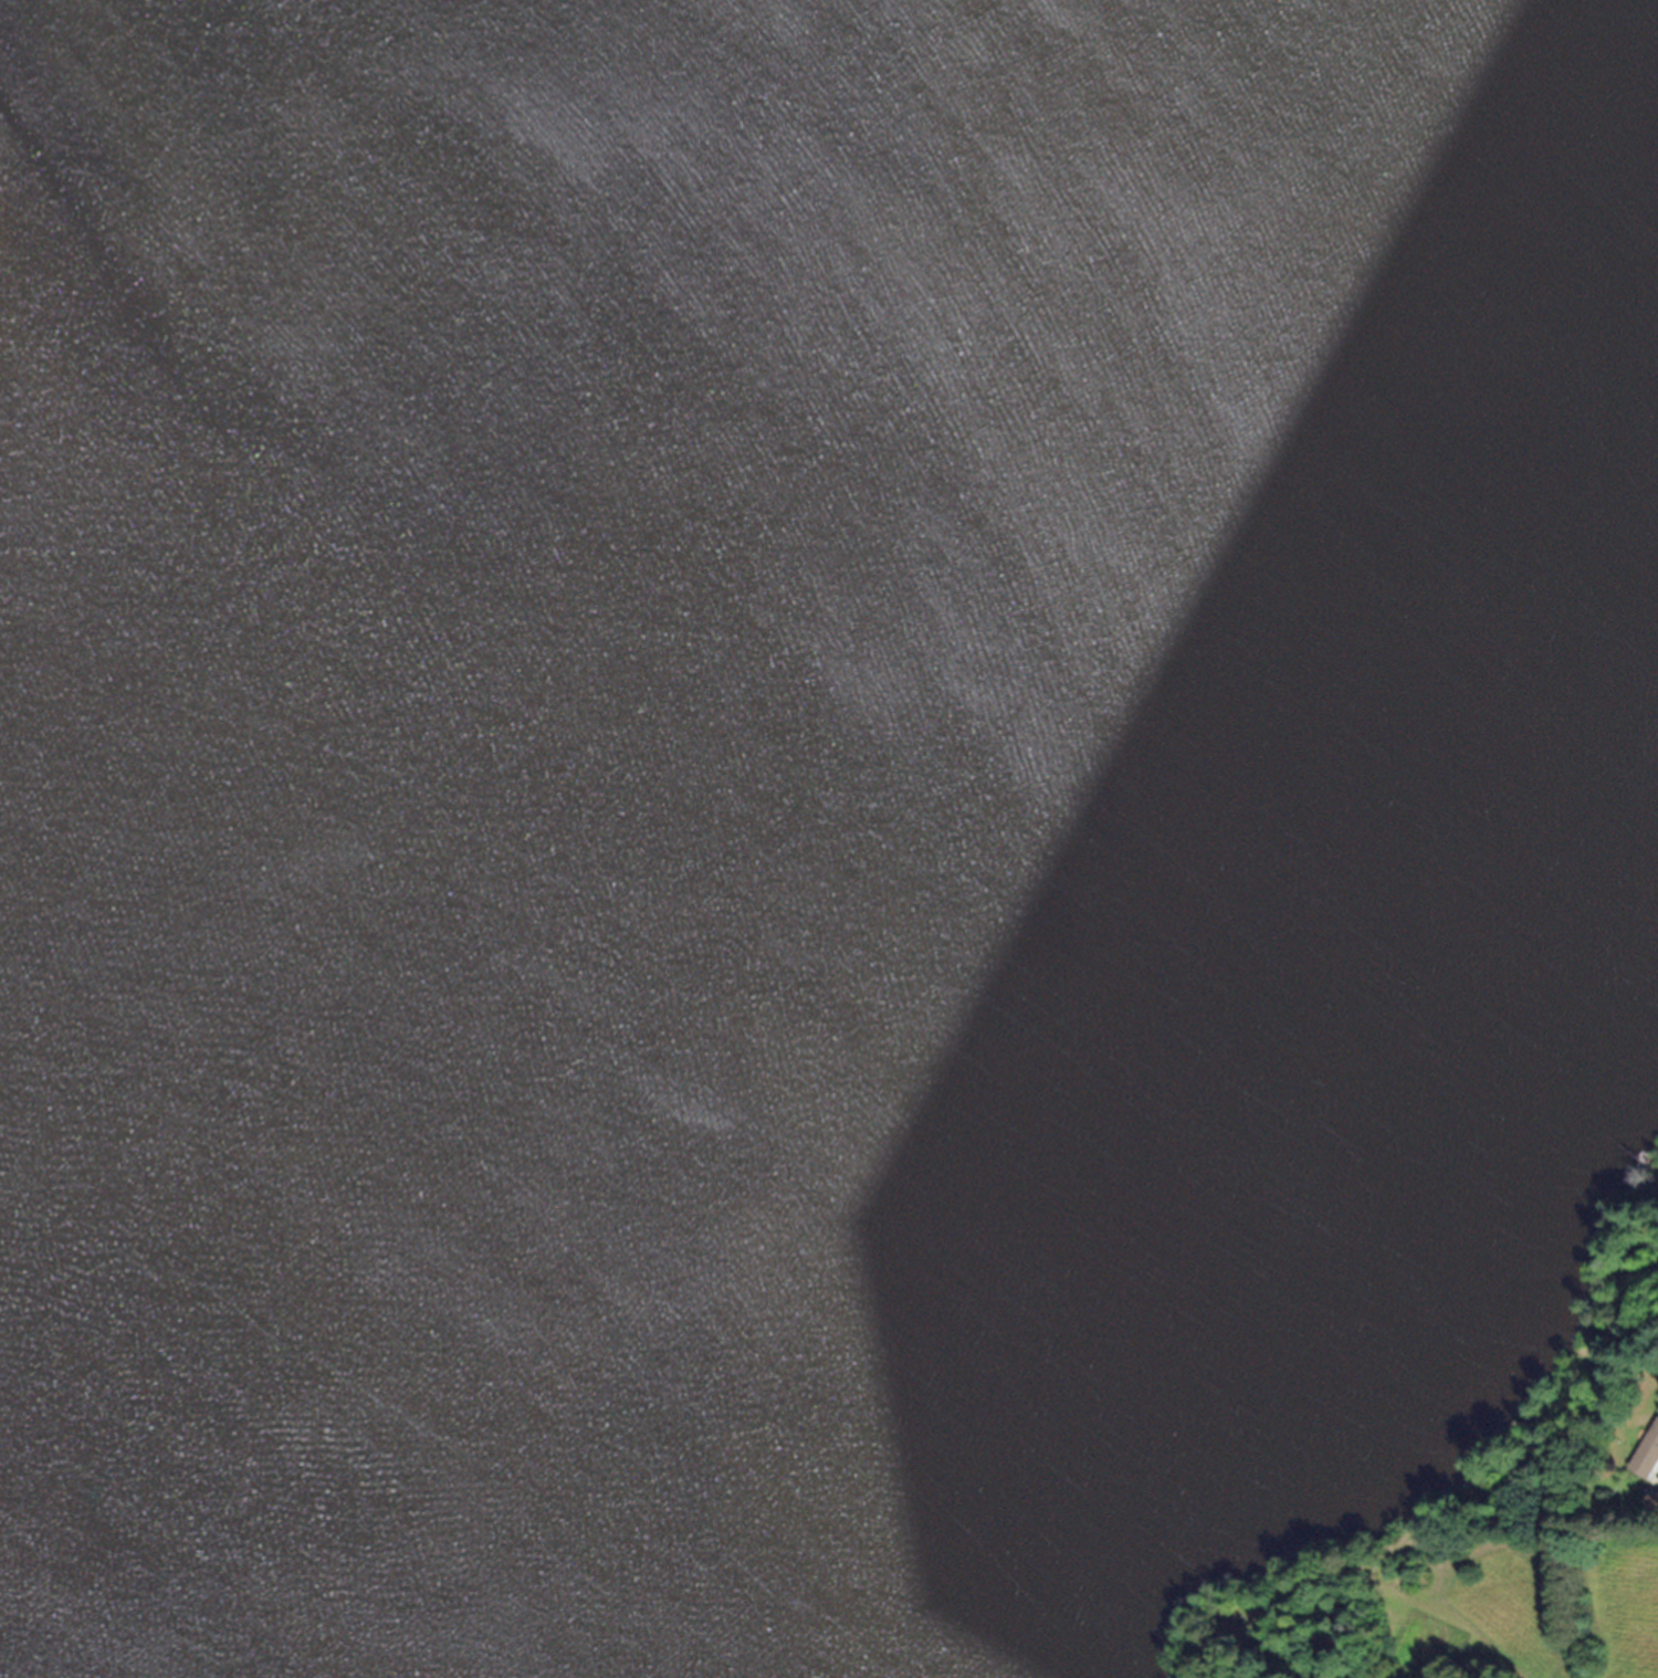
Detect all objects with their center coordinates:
building: (1647, 1450)

